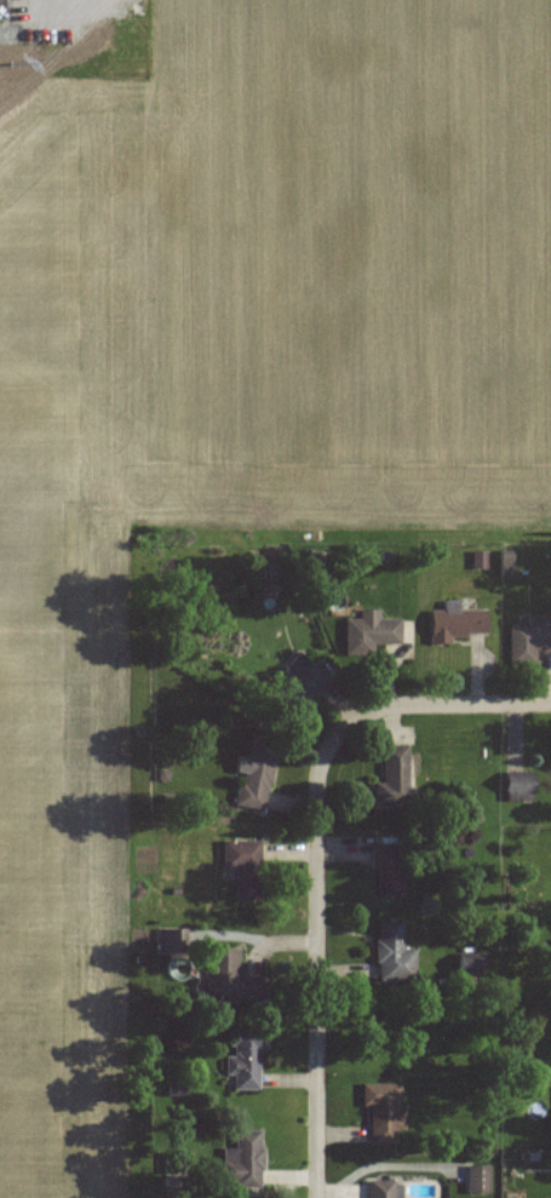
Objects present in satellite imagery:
building: (460, 621)
building: (371, 631)
building: (530, 637)
building: (302, 683)
building: (258, 772)
building: (396, 774)
building: (522, 787)
road: (318, 853)
building: (246, 869)
building: (389, 869)
building: (173, 941)
building: (395, 953)
building: (472, 964)
building: (234, 979)
building: (247, 1057)
building: (385, 1111)
building: (246, 1158)
building: (480, 1179)
building: (380, 1188)

